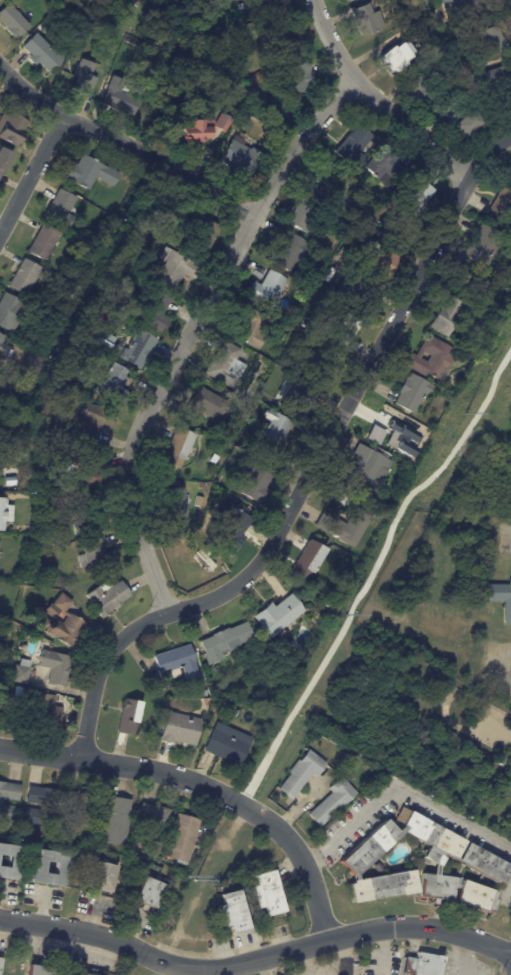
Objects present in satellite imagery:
building: (62, 0)
building: (347, 0)
building: (440, 0)
building: (352, 1)
building: (139, 3)
building: (269, 6)
building: (467, 7)
building: (369, 20)
building: (13, 21)
building: (476, 21)
building: (89, 27)
building: (494, 40)
building: (454, 47)
building: (42, 54)
building: (397, 57)
building: (294, 77)
building: (82, 78)
building: (152, 84)
building: (425, 91)
building: (121, 98)
road: (378, 100)
building: (452, 114)
building: (224, 123)
building: (470, 125)
building: (12, 128)
building: (196, 133)
road: (124, 143)
building: (356, 147)
building: (241, 158)
building: (4, 160)
building: (386, 167)
building: (510, 167)
road: (31, 173)
building: (91, 173)
building: (509, 173)
building: (416, 199)
building: (501, 206)
building: (379, 207)
building: (61, 209)
building: (310, 216)
building: (153, 224)
building: (201, 239)
building: (44, 243)
building: (485, 246)
building: (289, 253)
building: (348, 257)
building: (378, 261)
building: (174, 269)
building: (329, 277)
building: (25, 278)
building: (269, 290)
building: (362, 291)
building: (154, 298)
building: (12, 313)
building: (445, 317)
building: (107, 318)
building: (155, 320)
building: (253, 327)
road: (191, 328)
building: (346, 332)
building: (287, 337)
building: (99, 338)
building: (4, 348)
building: (142, 348)
building: (430, 358)
building: (227, 366)
building: (113, 386)
building: (412, 394)
building: (302, 398)
building: (207, 407)
building: (94, 421)
building: (273, 435)
building: (373, 435)
park: (470, 436)
building: (400, 438)
building: (179, 450)
building: (220, 453)
building: (85, 471)
road: (308, 471)
building: (368, 477)
building: (256, 485)
building: (202, 486)
building: (199, 504)
building: (176, 506)
building: (5, 515)
building: (88, 518)
building: (28, 522)
building: (349, 527)
building: (232, 528)
road: (508, 535)
building: (55, 544)
building: (97, 558)
building: (310, 563)
building: (348, 572)
road: (372, 573)
building: (501, 597)
building: (108, 599)
building: (327, 604)
building: (280, 616)
building: (62, 623)
building: (226, 643)
building: (179, 664)
building: (57, 668)
building: (22, 673)
building: (210, 685)
building: (0, 695)
building: (203, 695)
park: (325, 696)
building: (46, 711)
building: (129, 719)
building: (180, 731)
building: (228, 746)
building: (503, 761)
road: (124, 766)
building: (302, 774)
road: (399, 791)
building: (333, 802)
building: (466, 803)
building: (2, 804)
building: (43, 807)
building: (79, 813)
building: (510, 817)
building: (115, 824)
building: (153, 827)
building: (182, 840)
road: (301, 861)
building: (478, 861)
building: (11, 863)
building: (378, 868)
building: (38, 871)
building: (101, 880)
road: (508, 888)
building: (268, 894)
building: (151, 897)
building: (234, 913)
road: (464, 956)
road: (255, 958)
building: (1, 964)
building: (423, 965)
building: (40, 971)
building: (81, 974)

